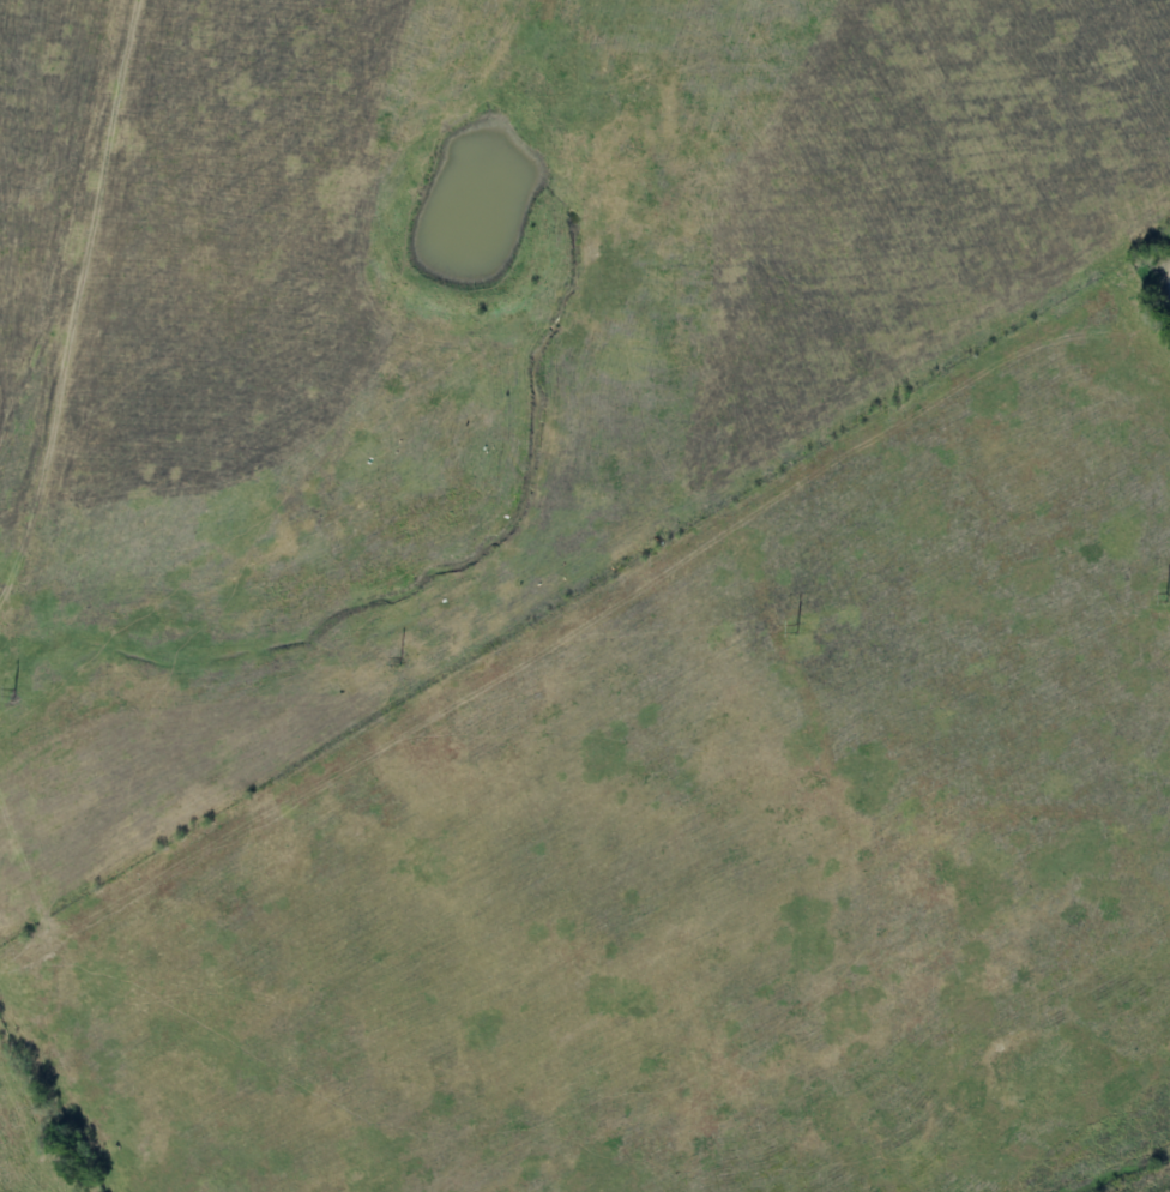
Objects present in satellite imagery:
road: (95, 263)
power tower: (1166, 595)
power tower: (796, 627)
power tower: (402, 658)
power tower: (12, 693)
road: (55, 1102)

